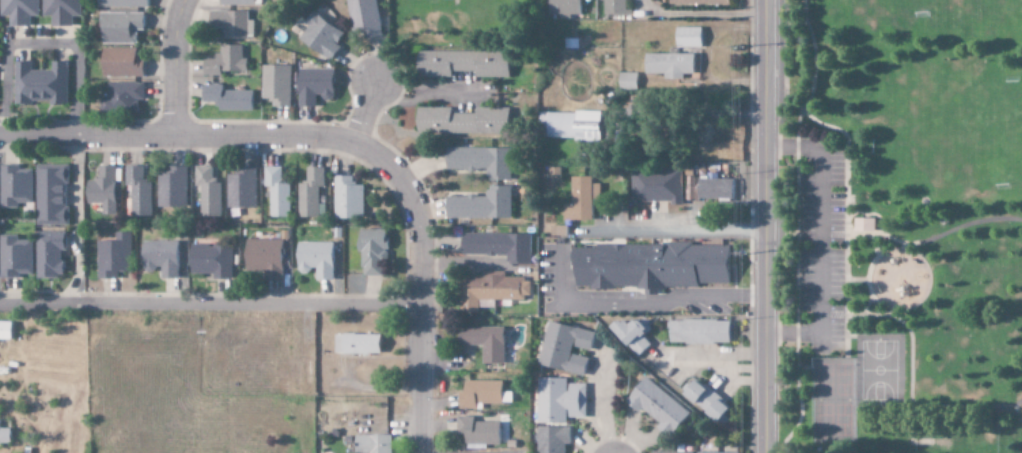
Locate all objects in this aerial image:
building: (696, 3)
building: (120, 4)
building: (615, 7)
building: (18, 11)
building: (60, 11)
park: (936, 15)
building: (362, 18)
road: (793, 22)
building: (228, 24)
building: (119, 28)
building: (319, 37)
building: (686, 38)
building: (225, 59)
road: (782, 61)
building: (119, 63)
building: (460, 64)
building: (667, 65)
road: (171, 67)
building: (627, 81)
building: (38, 84)
building: (276, 85)
building: (313, 86)
building: (120, 98)
building: (226, 98)
road: (362, 112)
building: (461, 122)
building: (568, 126)
road: (344, 139)
building: (479, 161)
building: (14, 187)
building: (654, 187)
building: (171, 189)
building: (241, 189)
building: (102, 190)
building: (138, 192)
building: (207, 192)
building: (276, 193)
building: (310, 195)
building: (50, 196)
building: (346, 199)
building: (578, 201)
building: (479, 205)
road: (875, 212)
building: (865, 223)
road: (762, 226)
park: (898, 227)
road: (950, 230)
road: (818, 243)
road: (873, 245)
building: (497, 247)
building: (371, 252)
parking lot: (821, 252)
building: (48, 255)
building: (14, 257)
building: (113, 257)
building: (159, 258)
building: (263, 258)
building: (314, 259)
building: (211, 261)
building: (647, 267)
road: (845, 272)
road: (867, 287)
road: (794, 289)
building: (489, 290)
road: (209, 302)
building: (5, 331)
building: (697, 332)
building: (631, 335)
building: (482, 342)
building: (356, 344)
building: (563, 349)
park: (873, 366)
building: (478, 394)
building: (558, 401)
building: (706, 403)
park: (831, 403)
building: (656, 406)
building: (475, 431)
building: (4, 438)
building: (551, 439)
building: (371, 444)
building: (658, 452)

